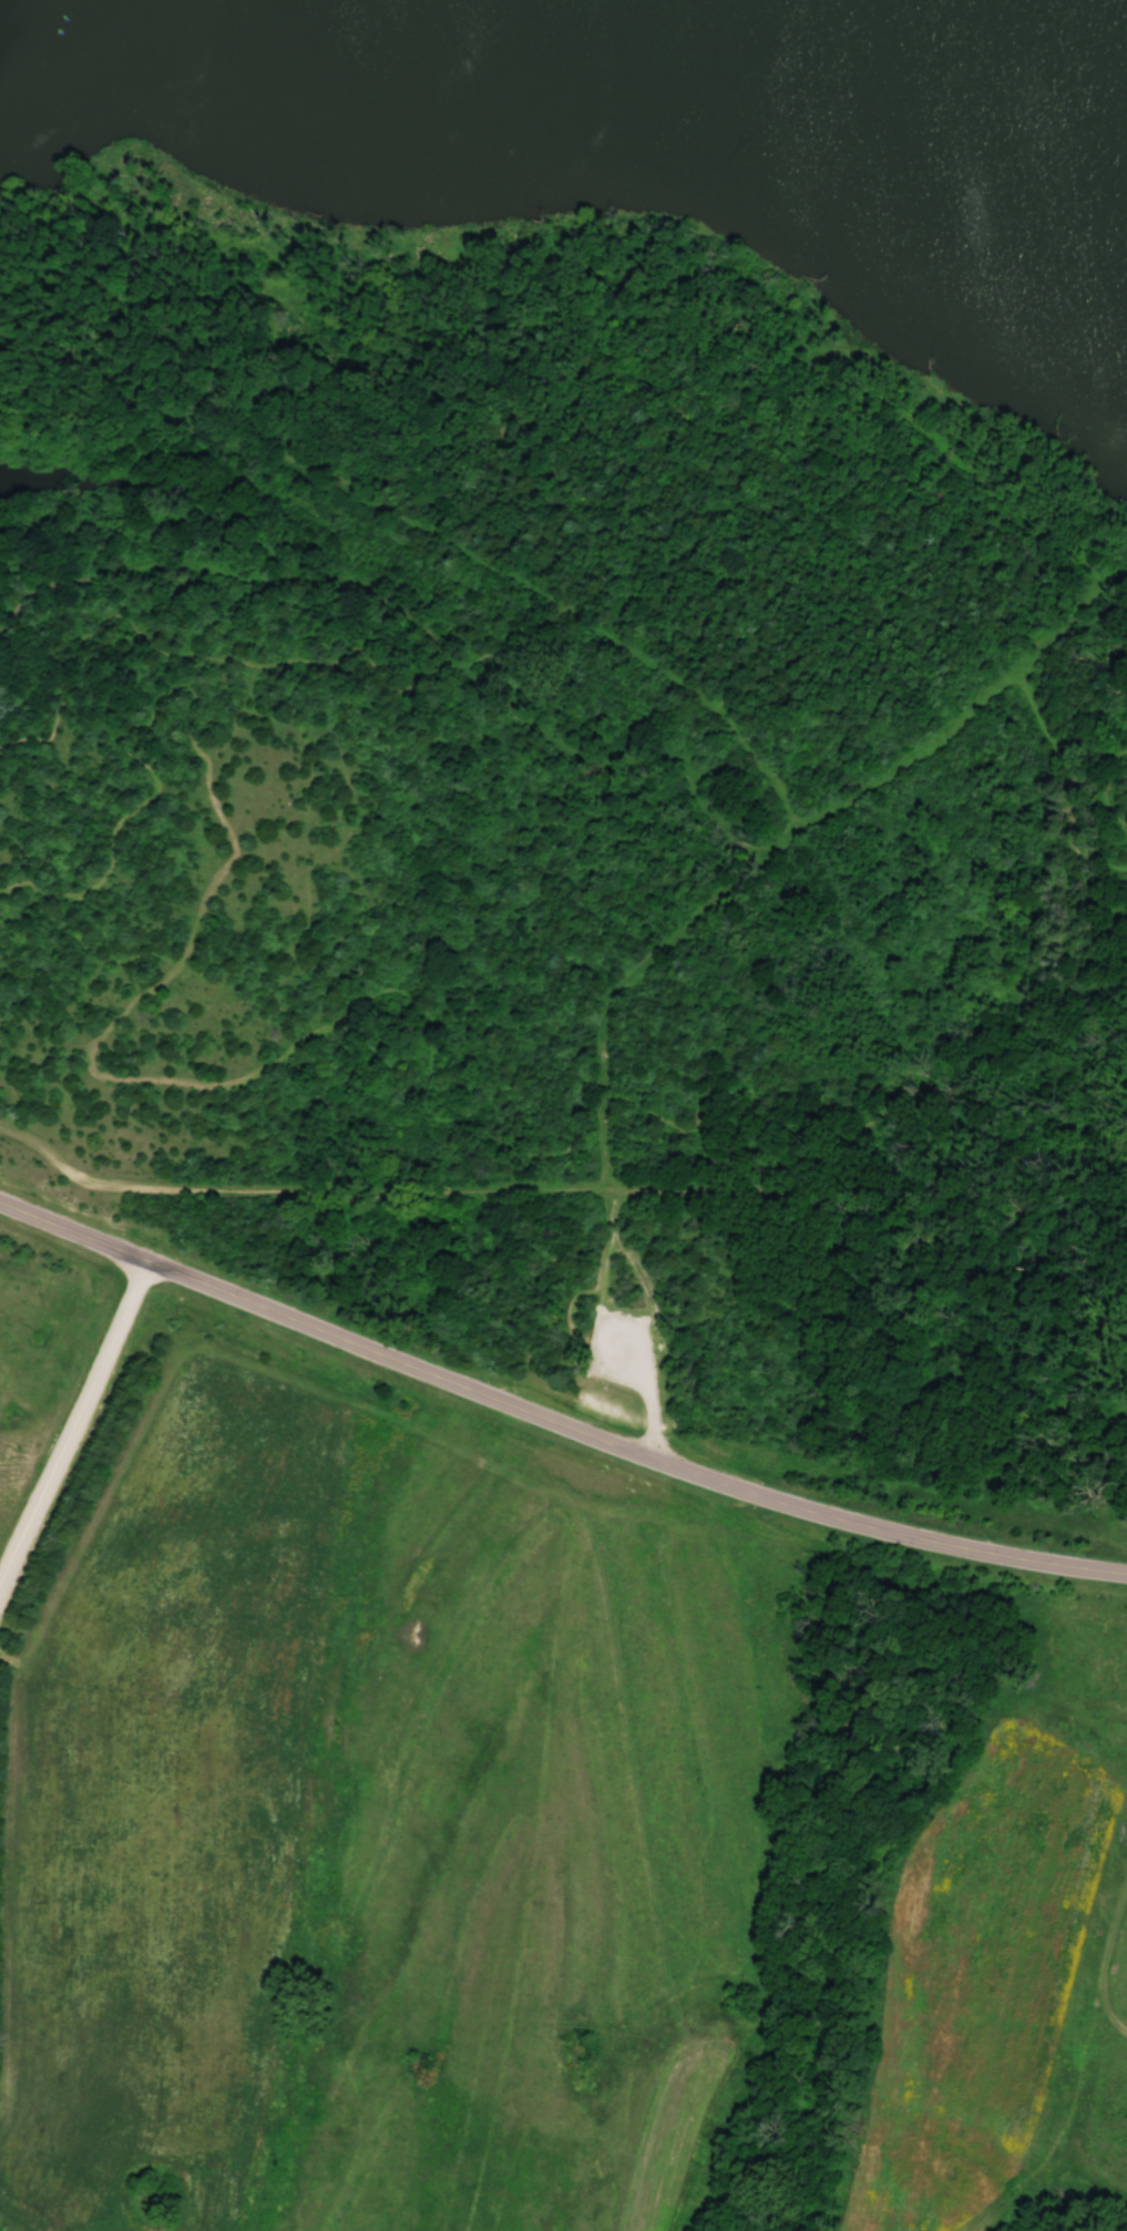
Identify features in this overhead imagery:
road: (461, 299)
road: (639, 460)
road: (697, 698)
park: (588, 710)
road: (594, 757)
road: (1108, 786)
road: (625, 1001)
road: (243, 1092)
road: (451, 1188)
road: (1023, 1197)
road: (604, 1250)
parking lot: (619, 1352)
road: (1089, 1352)
road: (953, 1403)
road: (552, 1421)
road: (73, 1426)
road: (652, 1427)

